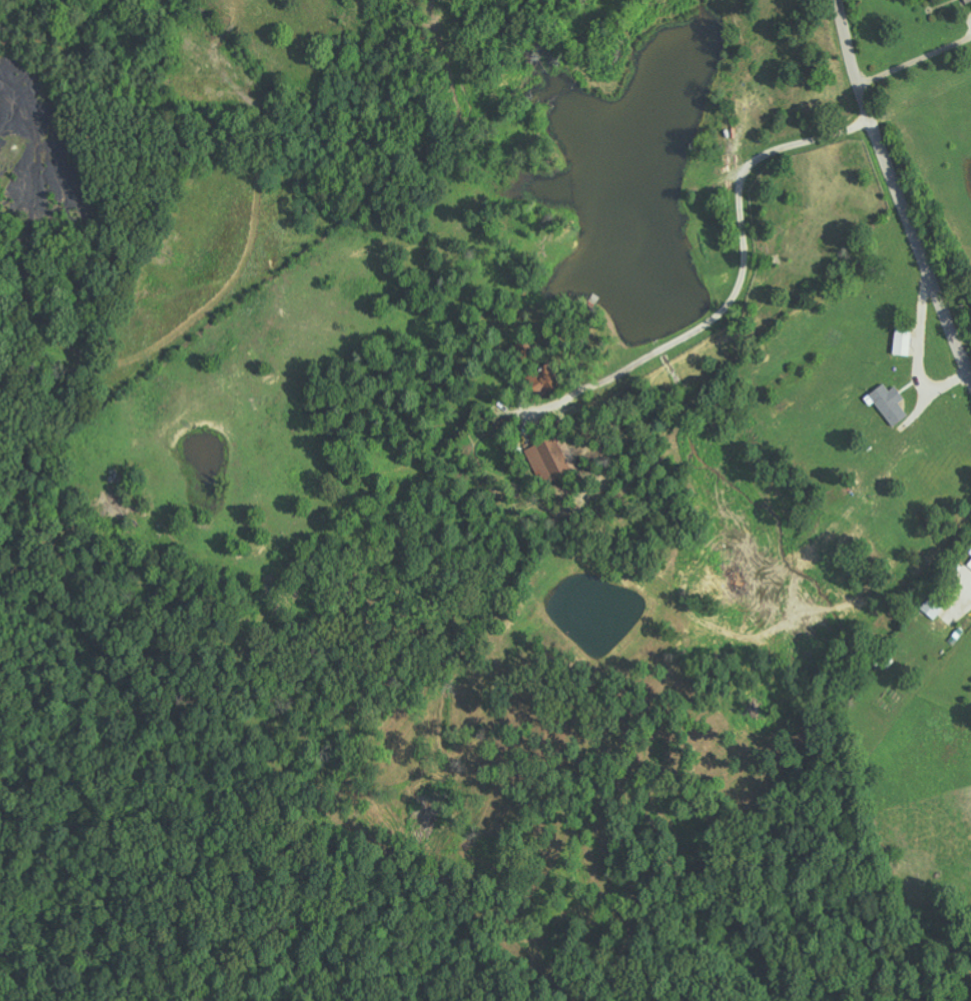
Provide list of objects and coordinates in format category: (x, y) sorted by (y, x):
road: (897, 189)
building: (903, 341)
building: (545, 382)
building: (889, 403)
building: (552, 459)
building: (970, 563)
building: (935, 604)

